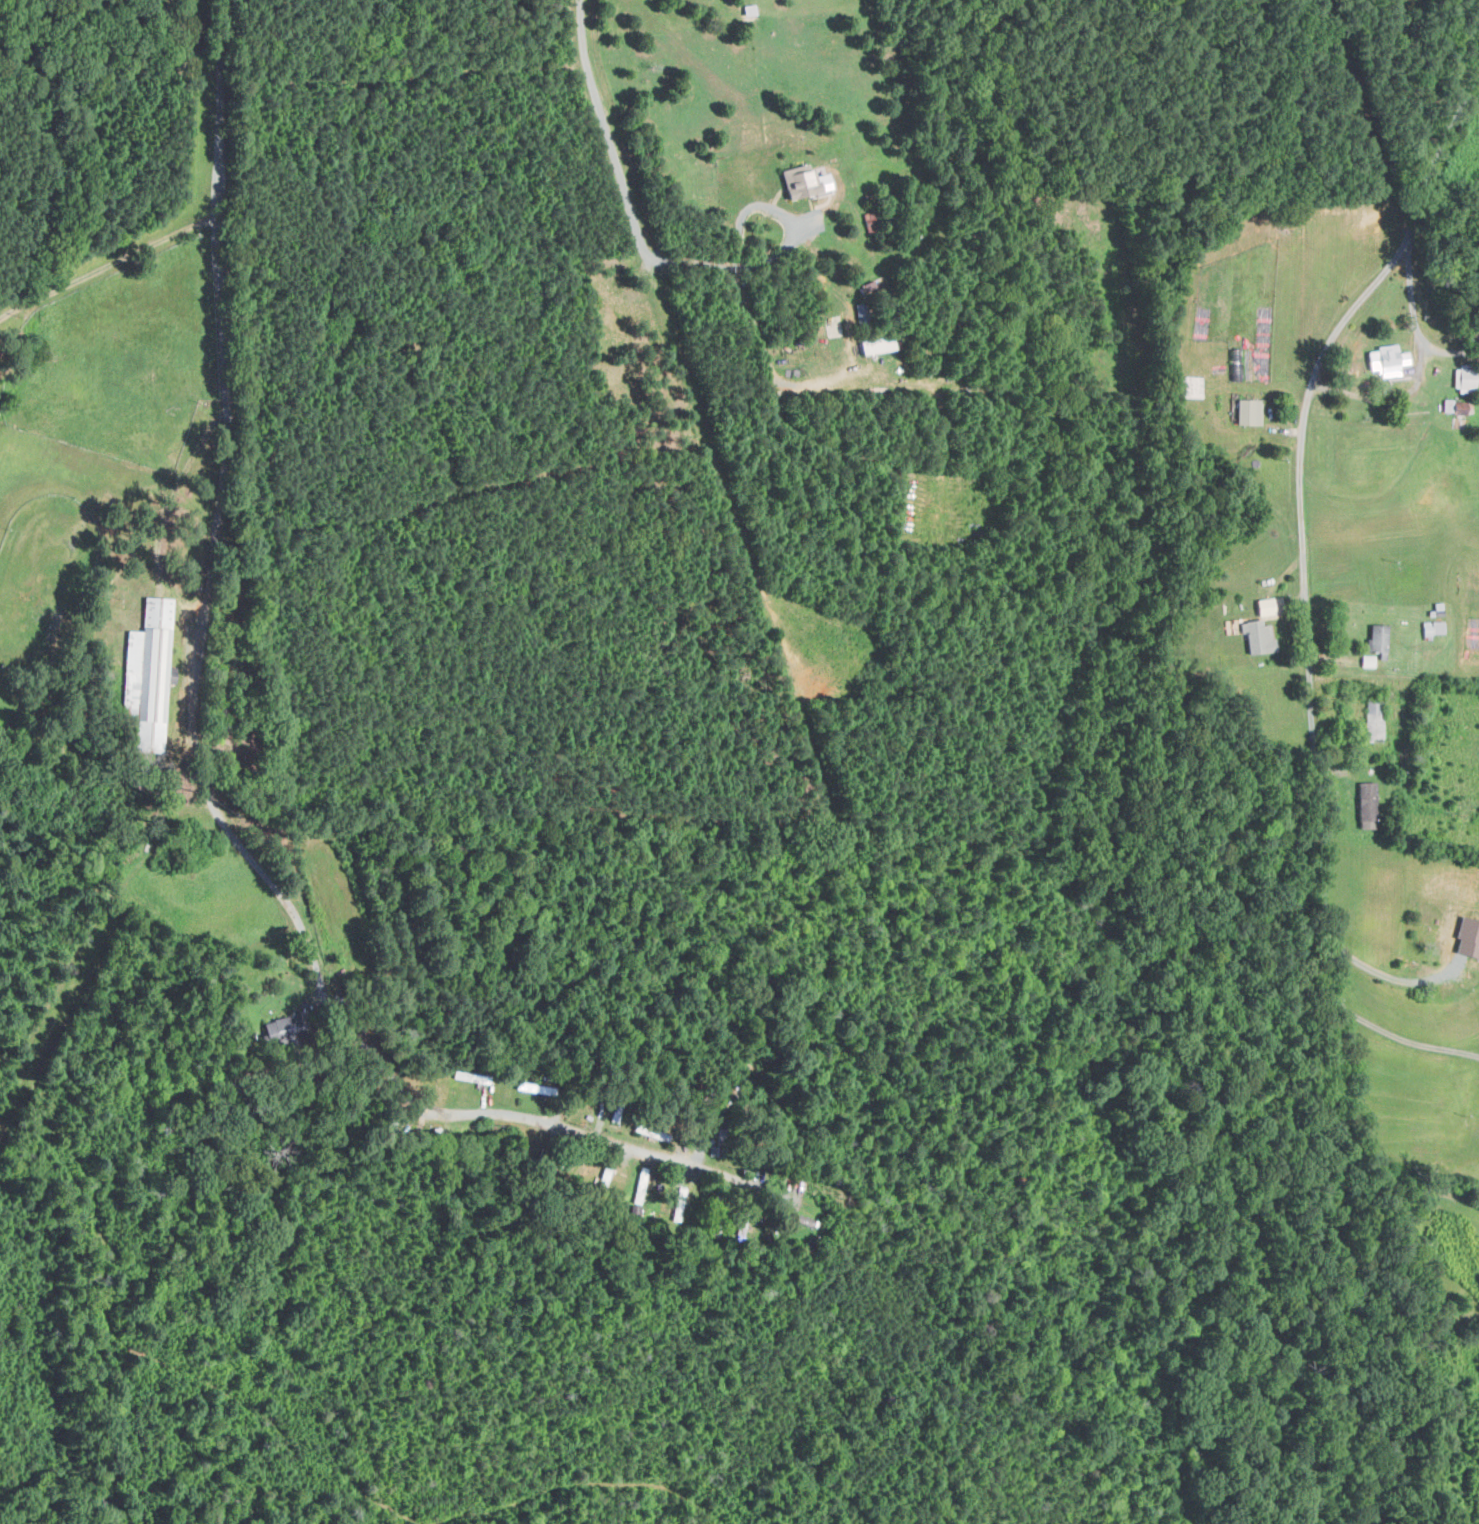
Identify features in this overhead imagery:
building: (748, 9)
road: (619, 171)
building: (802, 180)
road: (782, 214)
road: (107, 262)
building: (827, 323)
road: (1415, 328)
building: (875, 342)
building: (1385, 360)
building: (1461, 380)
building: (1191, 387)
building: (1248, 412)
road: (1304, 598)
building: (1263, 607)
building: (1431, 628)
building: (1255, 636)
building: (1373, 638)
building: (1372, 720)
road: (201, 748)
building: (1363, 805)
road: (1386, 980)
road: (1406, 1039)
road: (1421, 1183)

